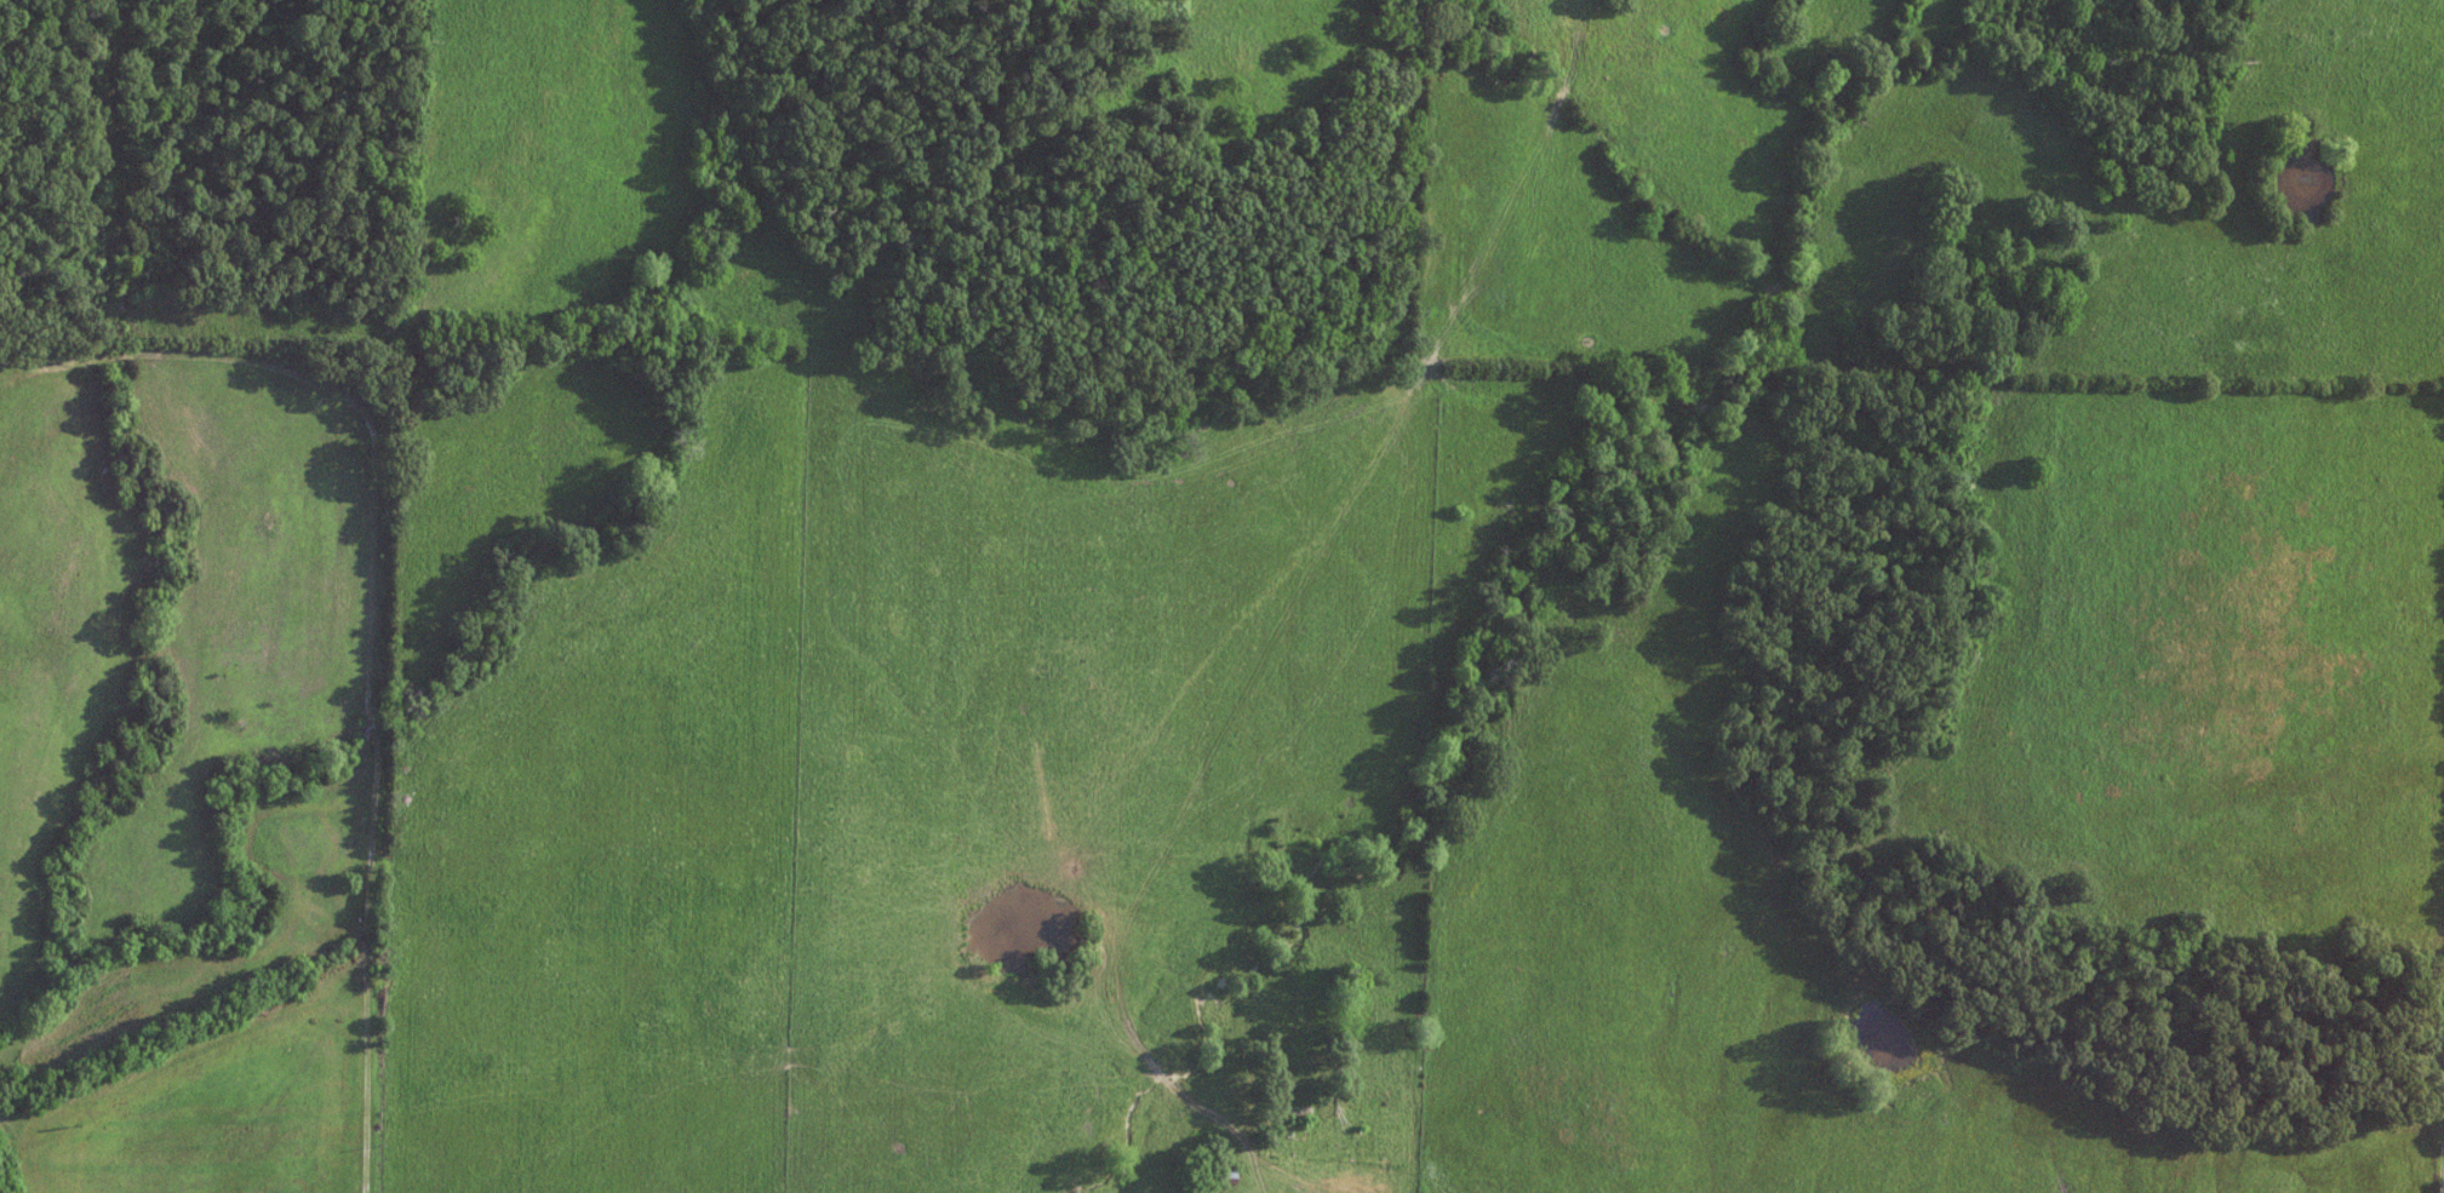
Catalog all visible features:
building: (1305, 1124)

